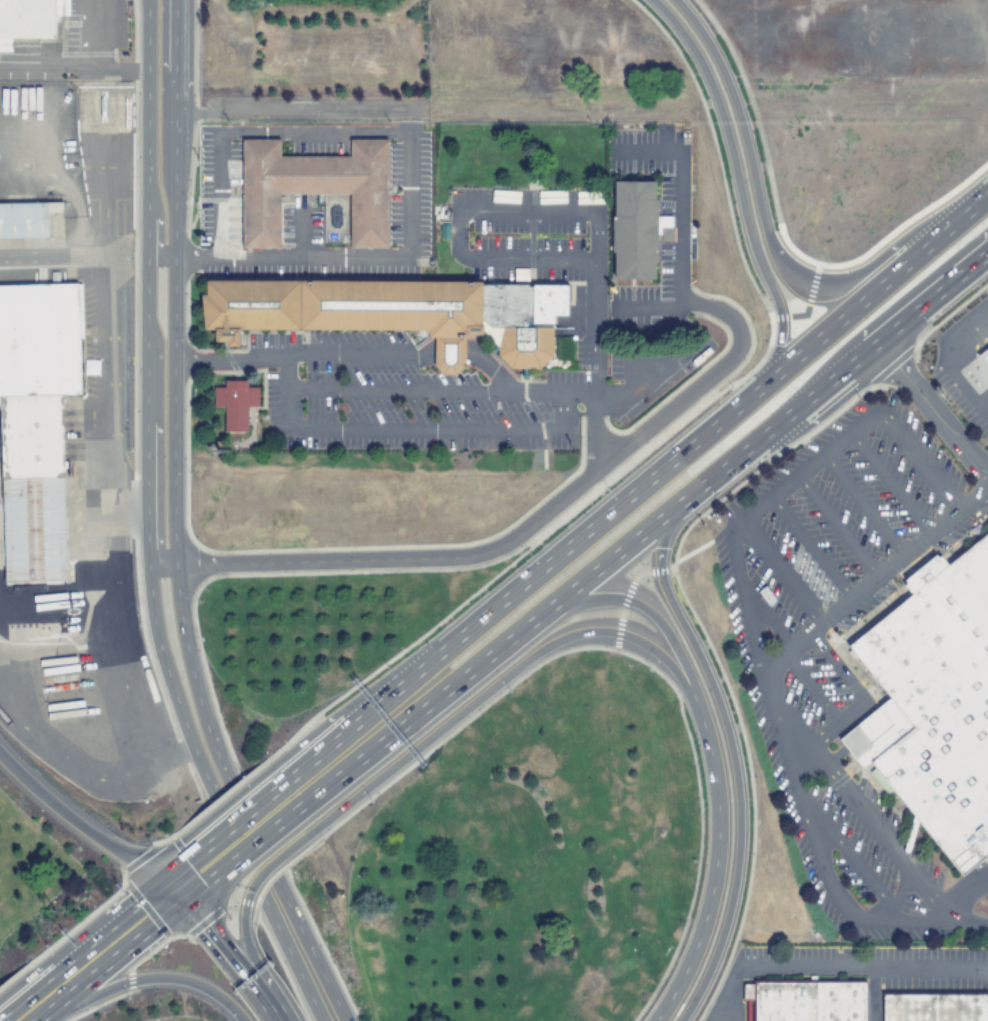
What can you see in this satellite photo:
building: (30, 18)
road: (79, 67)
road: (428, 113)
road: (734, 187)
building: (314, 188)
road: (679, 200)
building: (26, 219)
building: (635, 230)
parking lot: (679, 236)
road: (766, 245)
road: (48, 256)
road: (160, 284)
road: (873, 287)
road: (646, 309)
building: (397, 313)
road: (670, 320)
road: (947, 357)
building: (983, 357)
road: (825, 380)
parking lot: (962, 398)
building: (235, 404)
road: (111, 407)
road: (929, 410)
building: (36, 446)
road: (808, 467)
road: (888, 483)
road: (862, 505)
parking lot: (838, 507)
road: (836, 526)
road: (518, 535)
road: (810, 548)
road: (904, 552)
building: (89, 575)
gas station: (89, 575)
road: (519, 580)
building: (764, 596)
parking lot: (733, 597)
road: (790, 648)
road: (755, 657)
road: (476, 660)
road: (496, 686)
parking lot: (816, 688)
building: (932, 704)
road: (851, 713)
road: (151, 737)
road: (178, 747)
road: (798, 752)
road: (712, 764)
road: (733, 764)
road: (225, 802)
road: (235, 815)
road: (76, 821)
road: (870, 821)
parking lot: (800, 838)
parking lot: (869, 839)
road: (246, 843)
road: (850, 857)
road: (175, 868)
road: (263, 869)
road: (820, 876)
road: (189, 889)
road: (168, 891)
road: (963, 895)
road: (911, 926)
road: (964, 926)
road: (96, 938)
road: (60, 954)
road: (111, 956)
road: (230, 958)
road: (259, 970)
road: (147, 981)
road: (14, 987)
road: (723, 994)
building: (805, 1001)
road: (16, 1007)
building: (933, 1007)
road: (42, 1015)
road: (37, 1019)

